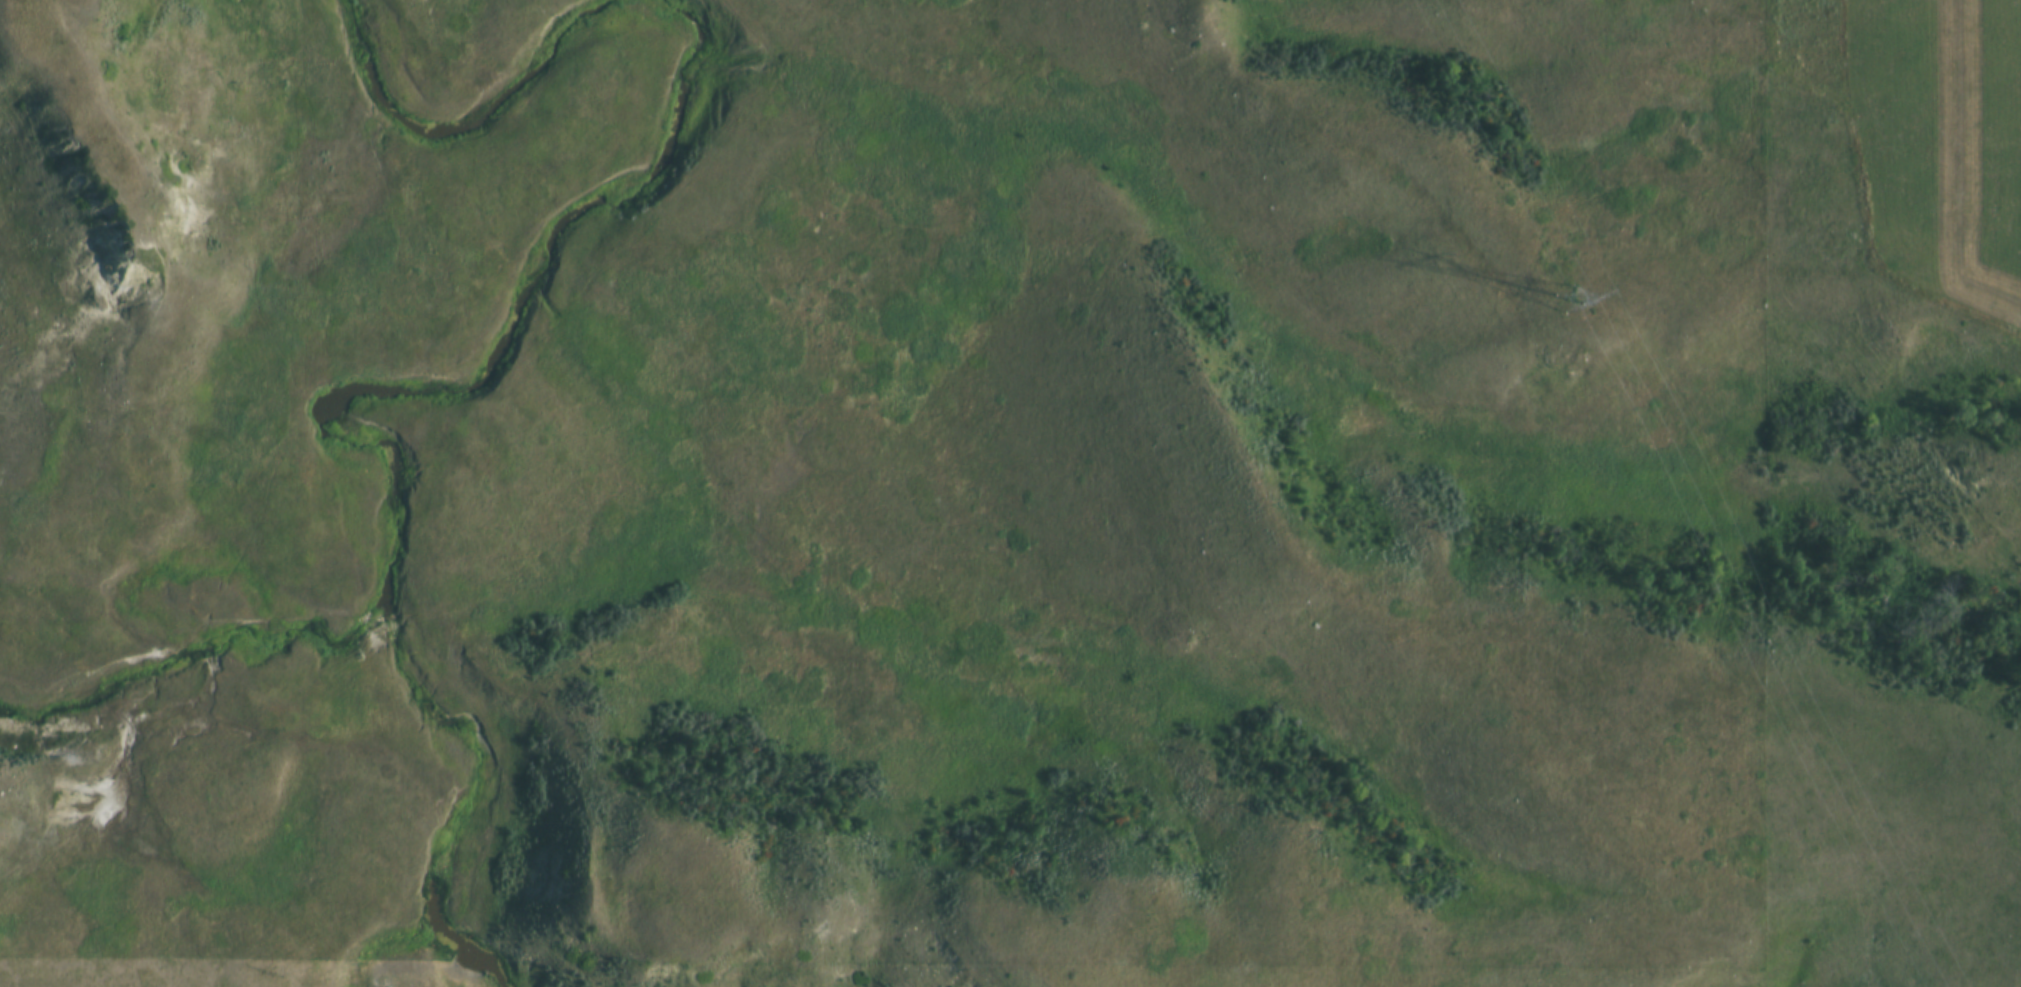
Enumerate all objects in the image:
power tower: (1550, 306)

